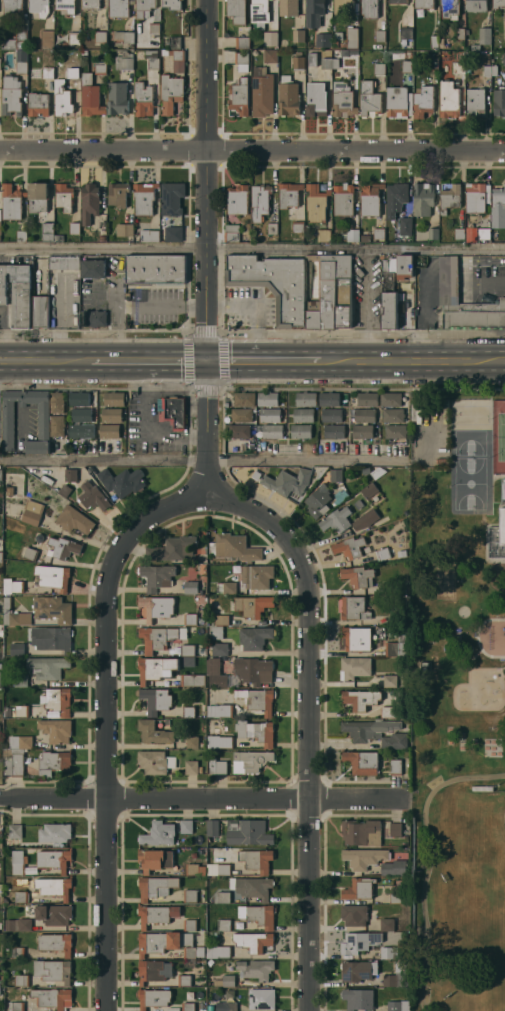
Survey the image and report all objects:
building: (397, 1)
building: (498, 3)
building: (90, 4)
building: (171, 4)
building: (424, 4)
building: (476, 5)
building: (66, 6)
building: (341, 6)
building: (12, 7)
building: (40, 7)
building: (289, 7)
building: (119, 8)
building: (146, 8)
building: (369, 8)
building: (450, 9)
building: (260, 10)
building: (237, 11)
building: (314, 12)
building: (155, 30)
building: (406, 32)
building: (22, 33)
building: (272, 33)
building: (460, 33)
building: (0, 35)
building: (338, 35)
building: (379, 35)
building: (485, 35)
building: (100, 36)
building: (124, 36)
building: (299, 36)
building: (74, 37)
building: (351, 37)
building: (269, 38)
building: (47, 39)
building: (323, 40)
building: (174, 41)
building: (434, 41)
building: (243, 42)
building: (9, 43)
building: (335, 43)
building: (343, 45)
building: (475, 47)
building: (270, 55)
building: (409, 55)
building: (312, 58)
building: (504, 58)
building: (152, 59)
building: (176, 59)
building: (124, 60)
building: (21, 61)
building: (242, 61)
building: (299, 61)
building: (0, 63)
building: (329, 63)
building: (432, 64)
building: (407, 66)
building: (100, 67)
building: (458, 67)
building: (353, 68)
building: (380, 69)
building: (489, 70)
building: (48, 72)
building: (65, 93)
building: (172, 93)
building: (11, 95)
building: (263, 95)
building: (91, 96)
building: (239, 96)
building: (118, 97)
building: (289, 97)
building: (143, 99)
building: (368, 99)
building: (448, 99)
building: (316, 100)
building: (342, 100)
building: (422, 100)
building: (499, 101)
building: (398, 102)
building: (38, 103)
building: (475, 103)
road: (252, 150)
road: (206, 181)
building: (118, 194)
building: (290, 194)
building: (38, 197)
building: (64, 197)
building: (144, 197)
building: (475, 197)
building: (172, 198)
building: (396, 198)
building: (422, 198)
building: (449, 198)
building: (344, 199)
building: (370, 199)
building: (237, 200)
building: (260, 201)
building: (12, 202)
building: (89, 202)
building: (316, 203)
building: (498, 207)
building: (298, 226)
building: (405, 226)
building: (0, 228)
building: (75, 228)
building: (272, 228)
building: (125, 230)
building: (48, 231)
building: (232, 233)
building: (378, 233)
building: (433, 233)
building: (471, 233)
building: (484, 233)
building: (0, 234)
building: (173, 234)
building: (459, 234)
building: (149, 235)
building: (324, 235)
building: (353, 235)
building: (22, 236)
building: (102, 237)
building: (59, 238)
building: (364, 238)
road: (252, 252)
building: (313, 257)
road: (491, 260)
road: (468, 262)
building: (64, 263)
road: (448, 264)
building: (404, 266)
building: (93, 268)
building: (155, 269)
building: (448, 280)
road: (481, 281)
building: (273, 283)
building: (336, 291)
building: (18, 292)
building: (389, 299)
road: (133, 304)
road: (424, 308)
building: (41, 311)
building: (314, 314)
building: (94, 318)
road: (503, 361)
road: (45, 362)
road: (411, 362)
road: (148, 363)
traffic signals: (206, 363)
road: (264, 363)
building: (79, 397)
building: (245, 398)
building: (268, 398)
building: (329, 398)
building: (366, 398)
building: (390, 398)
building: (114, 399)
building: (306, 399)
building: (57, 402)
building: (416, 409)
building: (174, 411)
building: (111, 414)
building: (242, 414)
building: (331, 414)
building: (364, 414)
building: (82, 415)
building: (271, 415)
building: (303, 415)
building: (393, 415)
building: (8, 423)
road: (205, 424)
building: (57, 425)
building: (81, 430)
building: (273, 430)
building: (334, 430)
building: (362, 430)
building: (109, 431)
building: (240, 431)
building: (302, 431)
building: (395, 431)
road: (203, 462)
building: (1, 474)
building: (336, 474)
building: (71, 475)
building: (122, 481)
building: (289, 483)
building: (369, 490)
building: (1, 494)
building: (341, 495)
building: (92, 496)
building: (318, 500)
building: (32, 512)
building: (336, 519)
building: (364, 519)
building: (74, 520)
building: (503, 526)
building: (64, 547)
building: (237, 547)
building: (177, 548)
building: (349, 548)
building: (382, 553)
building: (31, 554)
building: (1, 557)
building: (202, 566)
building: (357, 575)
building: (53, 576)
building: (157, 576)
building: (258, 576)
building: (13, 586)
building: (192, 587)
building: (227, 587)
building: (200, 600)
building: (253, 605)
building: (158, 607)
building: (354, 608)
building: (53, 609)
building: (14, 614)
building: (191, 619)
building: (202, 620)
building: (223, 620)
building: (0, 632)
building: (218, 632)
building: (160, 637)
building: (255, 637)
building: (51, 638)
building: (356, 638)
building: (393, 648)
building: (17, 649)
building: (221, 649)
building: (190, 650)
building: (188, 661)
building: (0, 665)
building: (48, 667)
building: (354, 667)
building: (157, 668)
building: (255, 670)
building: (217, 673)
building: (21, 680)
building: (193, 680)
building: (389, 681)
building: (212, 694)
building: (258, 699)
building: (360, 699)
building: (58, 700)
building: (157, 700)
building: (221, 710)
building: (22, 711)
building: (189, 711)
building: (7, 712)
building: (391, 712)
road: (104, 721)
road: (309, 722)
building: (211, 728)
building: (56, 730)
building: (155, 732)
building: (262, 732)
building: (375, 732)
building: (220, 741)
building: (21, 742)
building: (193, 742)
building: (14, 761)
building: (252, 761)
building: (361, 761)
building: (152, 762)
building: (53, 763)
building: (218, 766)
building: (395, 766)
building: (193, 767)
building: (482, 788)
road: (202, 802)
building: (187, 826)
building: (213, 827)
building: (395, 829)
building: (15, 831)
building: (55, 832)
building: (247, 832)
building: (361, 832)
building: (160, 833)
building: (201, 852)
building: (363, 858)
building: (54, 859)
building: (155, 860)
building: (257, 860)
building: (18, 862)
building: (393, 868)
building: (195, 869)
building: (212, 869)
building: (224, 869)
building: (54, 887)
building: (155, 887)
building: (252, 887)
building: (359, 888)
building: (190, 896)
building: (21, 897)
building: (222, 897)
building: (396, 898)
building: (54, 914)
building: (354, 914)
building: (157, 915)
building: (260, 915)
building: (18, 924)
building: (190, 924)
building: (224, 924)
building: (387, 924)
building: (0, 925)
building: (216, 933)
building: (254, 941)
building: (55, 942)
building: (359, 942)
building: (168, 943)
building: (217, 951)
building: (17, 952)
building: (392, 952)
building: (257, 969)
building: (52, 970)
building: (150, 970)
building: (355, 971)
building: (397, 976)
building: (21, 980)
building: (184, 980)
building: (229, 980)
building: (217, 983)
building: (1, 990)
building: (53, 998)
building: (154, 998)
building: (358, 998)
building: (262, 999)
building: (16, 1006)
building: (226, 1006)
building: (397, 1006)
building: (188, 1007)

